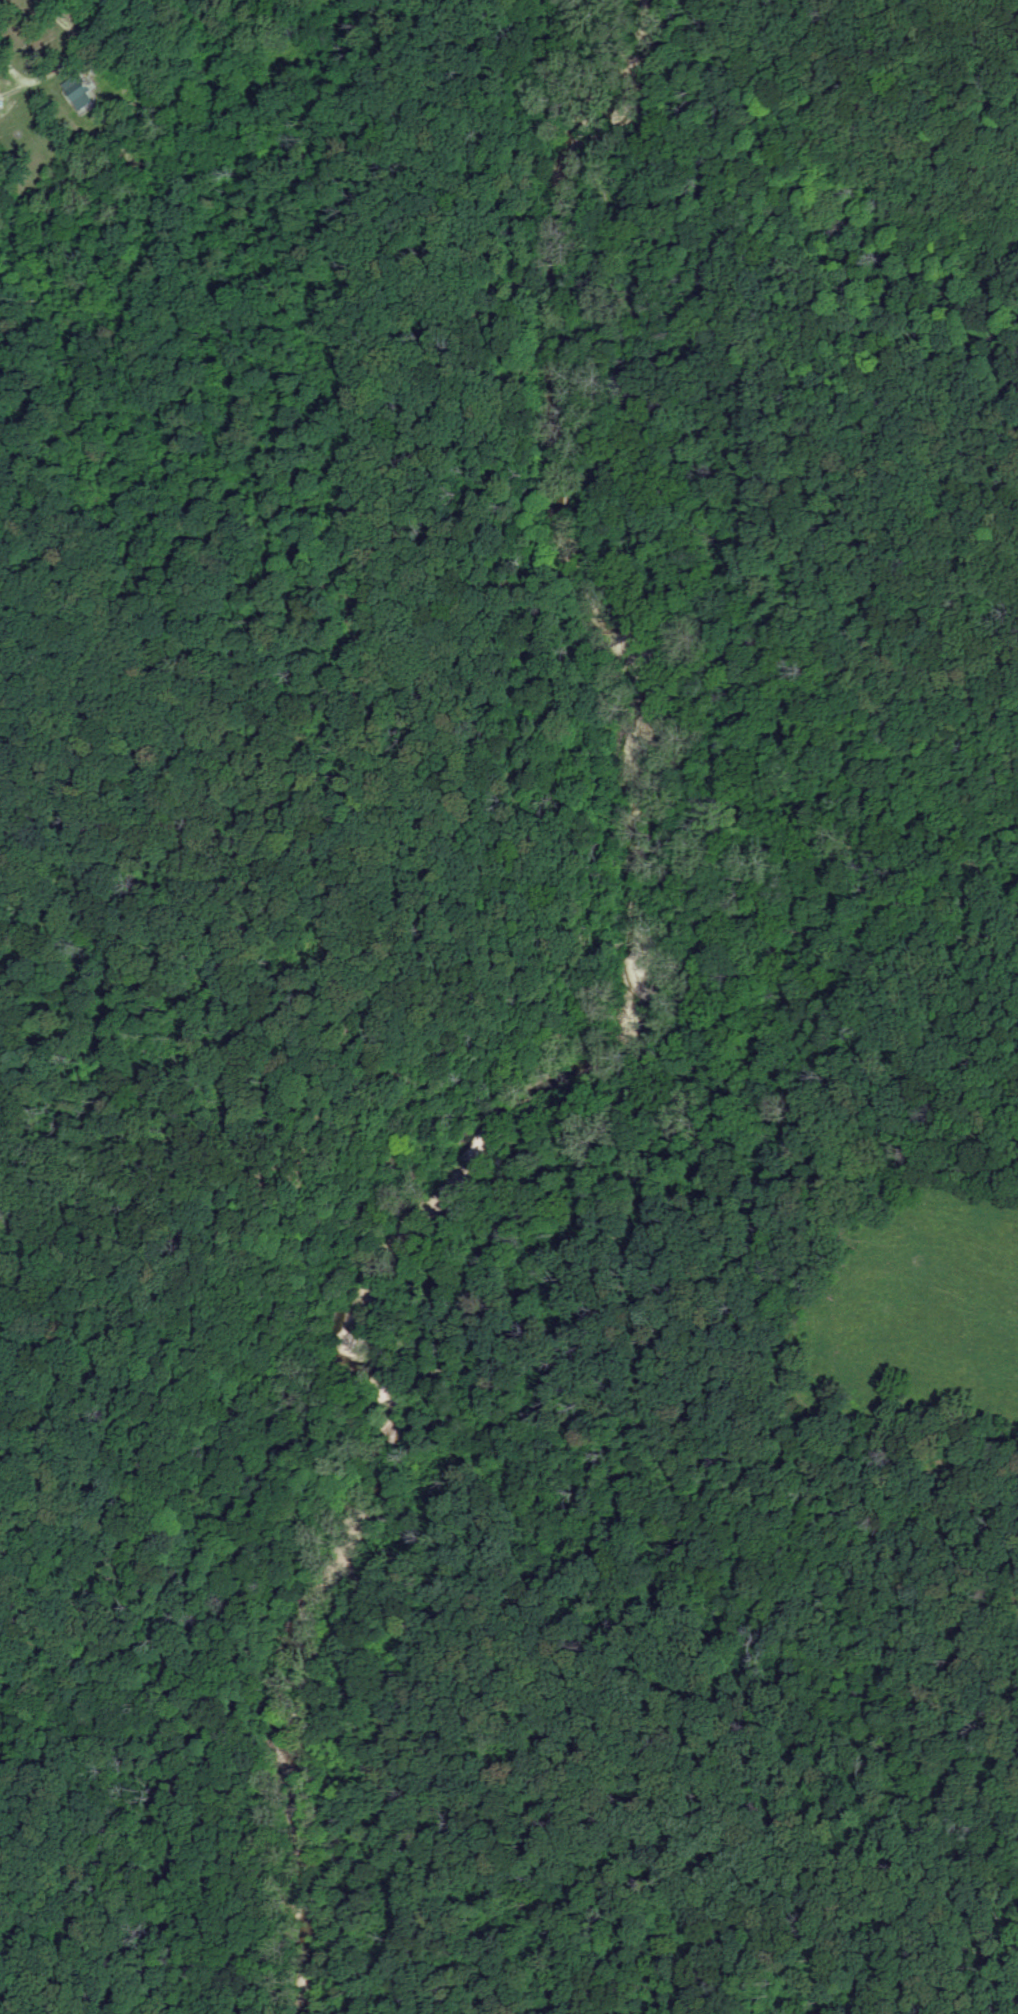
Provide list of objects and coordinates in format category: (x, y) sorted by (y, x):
road: (63, 56)
building: (84, 93)
building: (2, 102)

